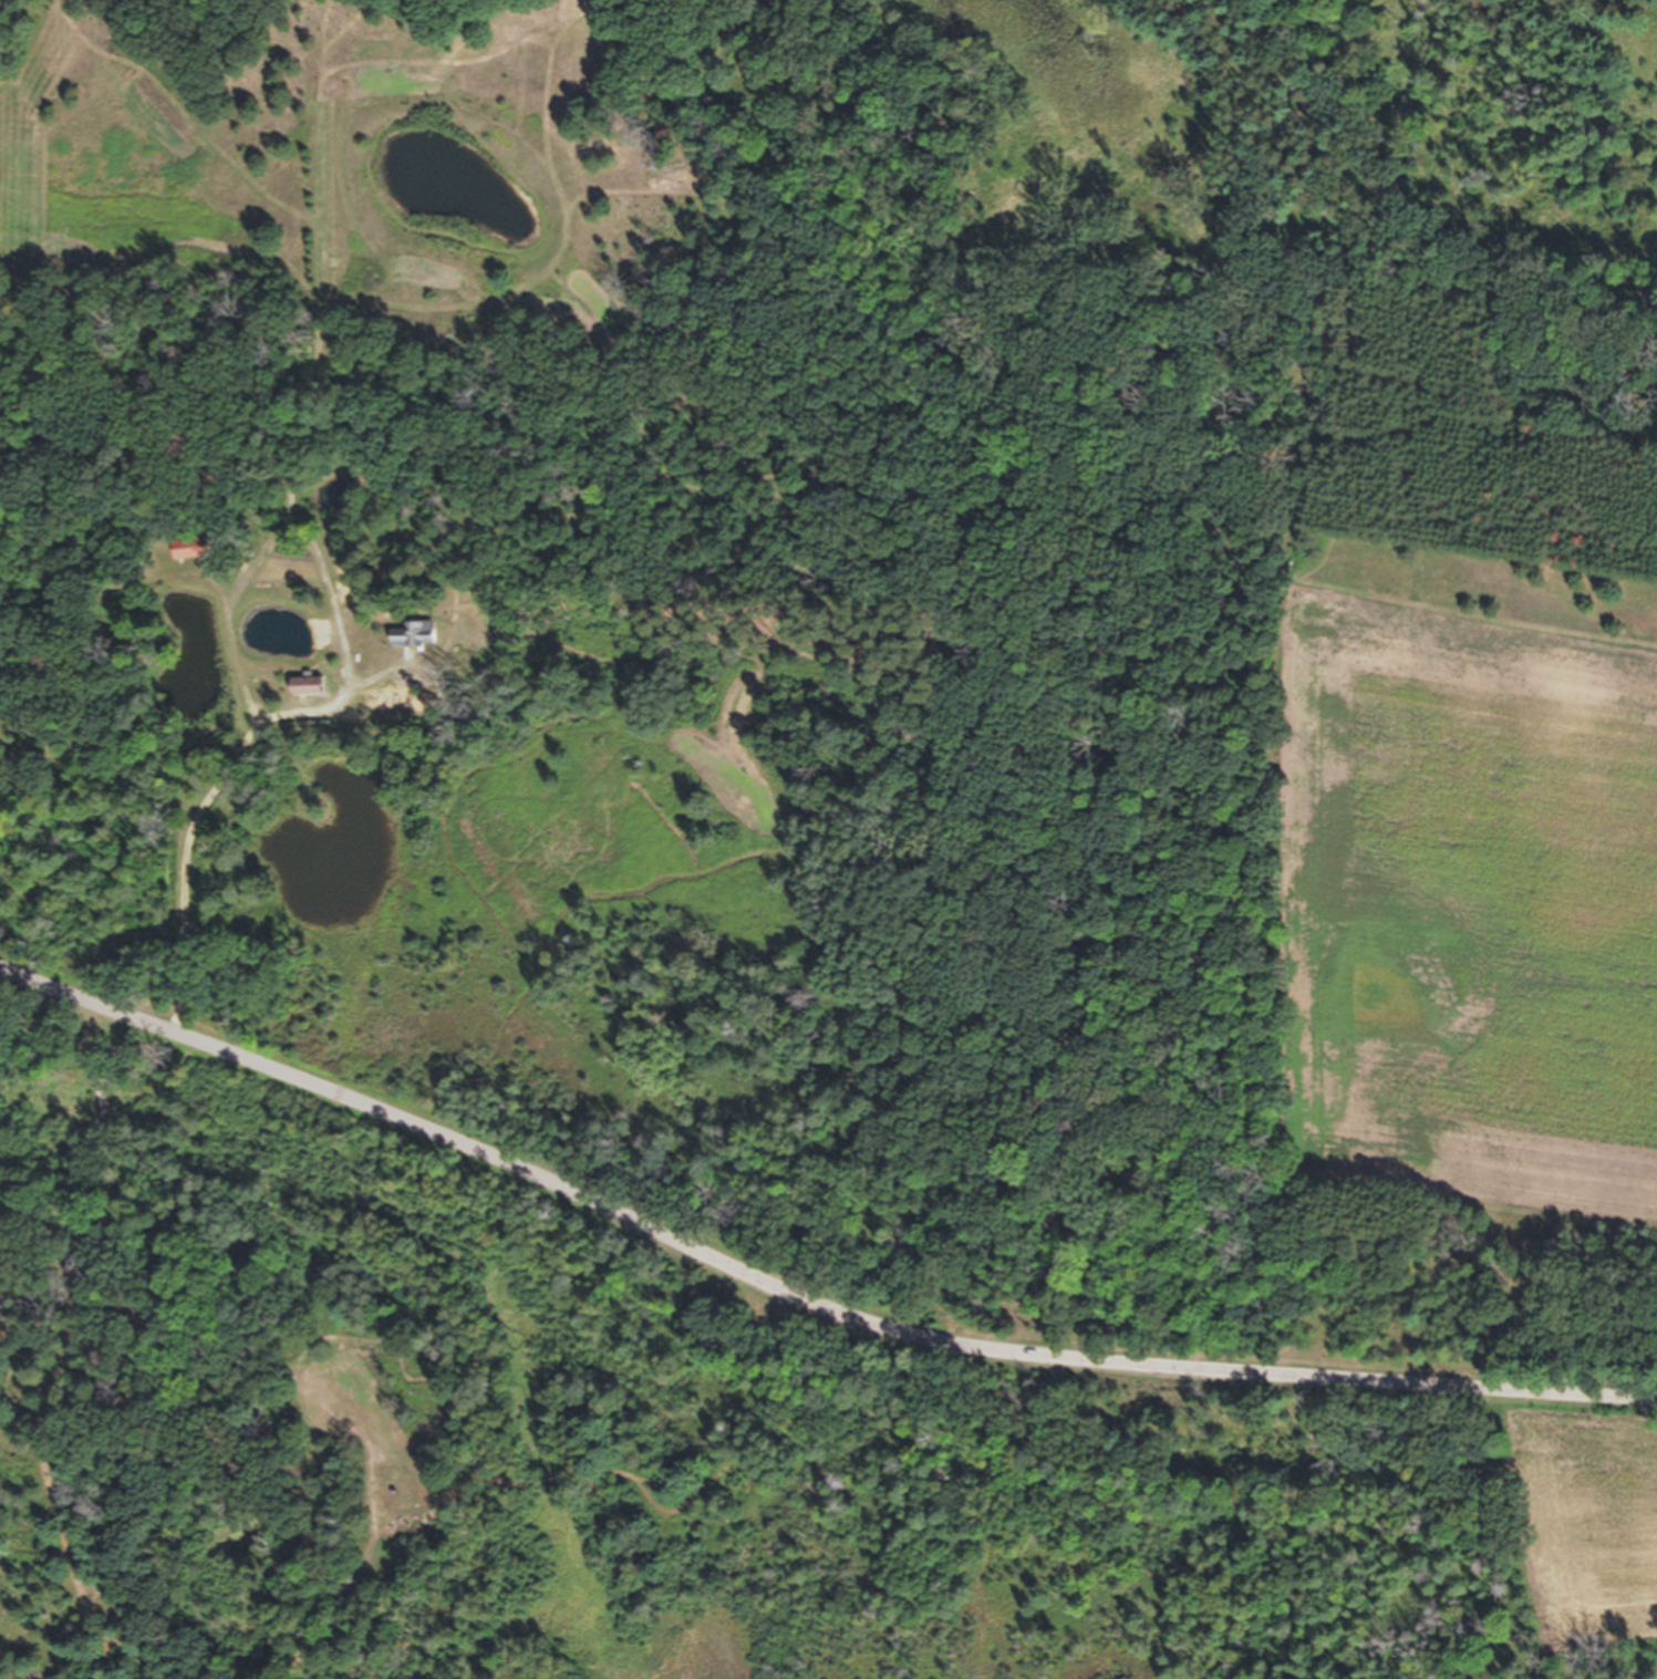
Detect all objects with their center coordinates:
building: (415, 642)
building: (308, 695)
road: (189, 818)
road: (801, 1273)

